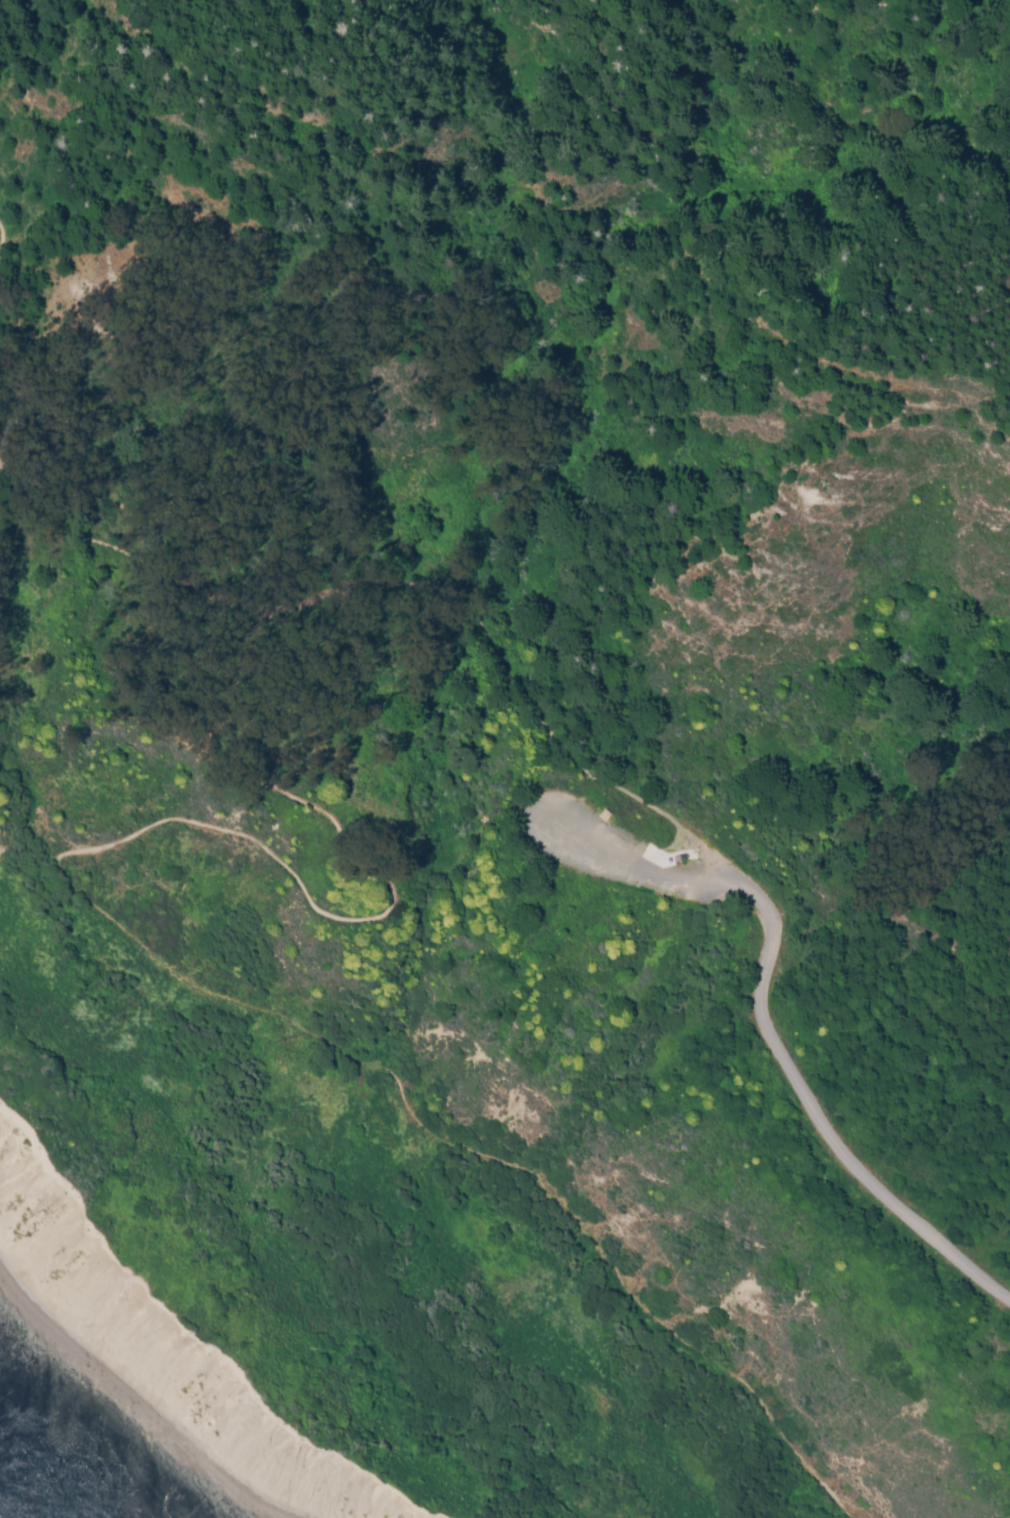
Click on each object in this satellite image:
road: (6, 250)
road: (104, 267)
road: (105, 546)
road: (462, 598)
road: (589, 780)
road: (578, 808)
road: (533, 816)
building: (604, 817)
road: (671, 818)
parking lot: (607, 849)
building: (678, 858)
road: (674, 874)
road: (139, 942)
road: (815, 1118)

